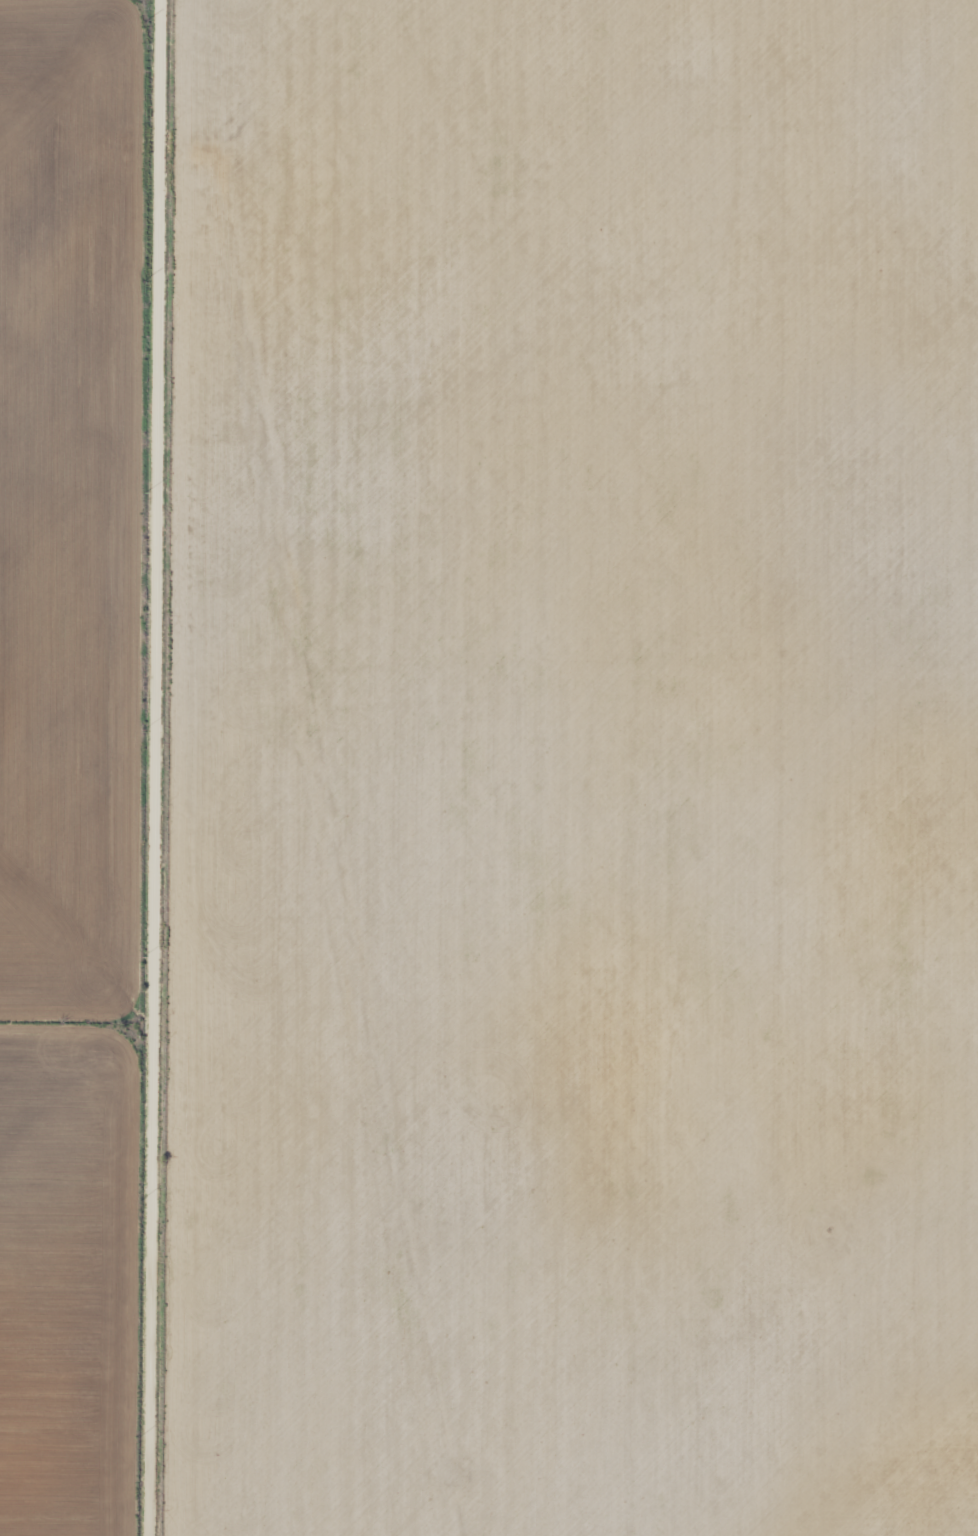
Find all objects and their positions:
road: (162, 768)

